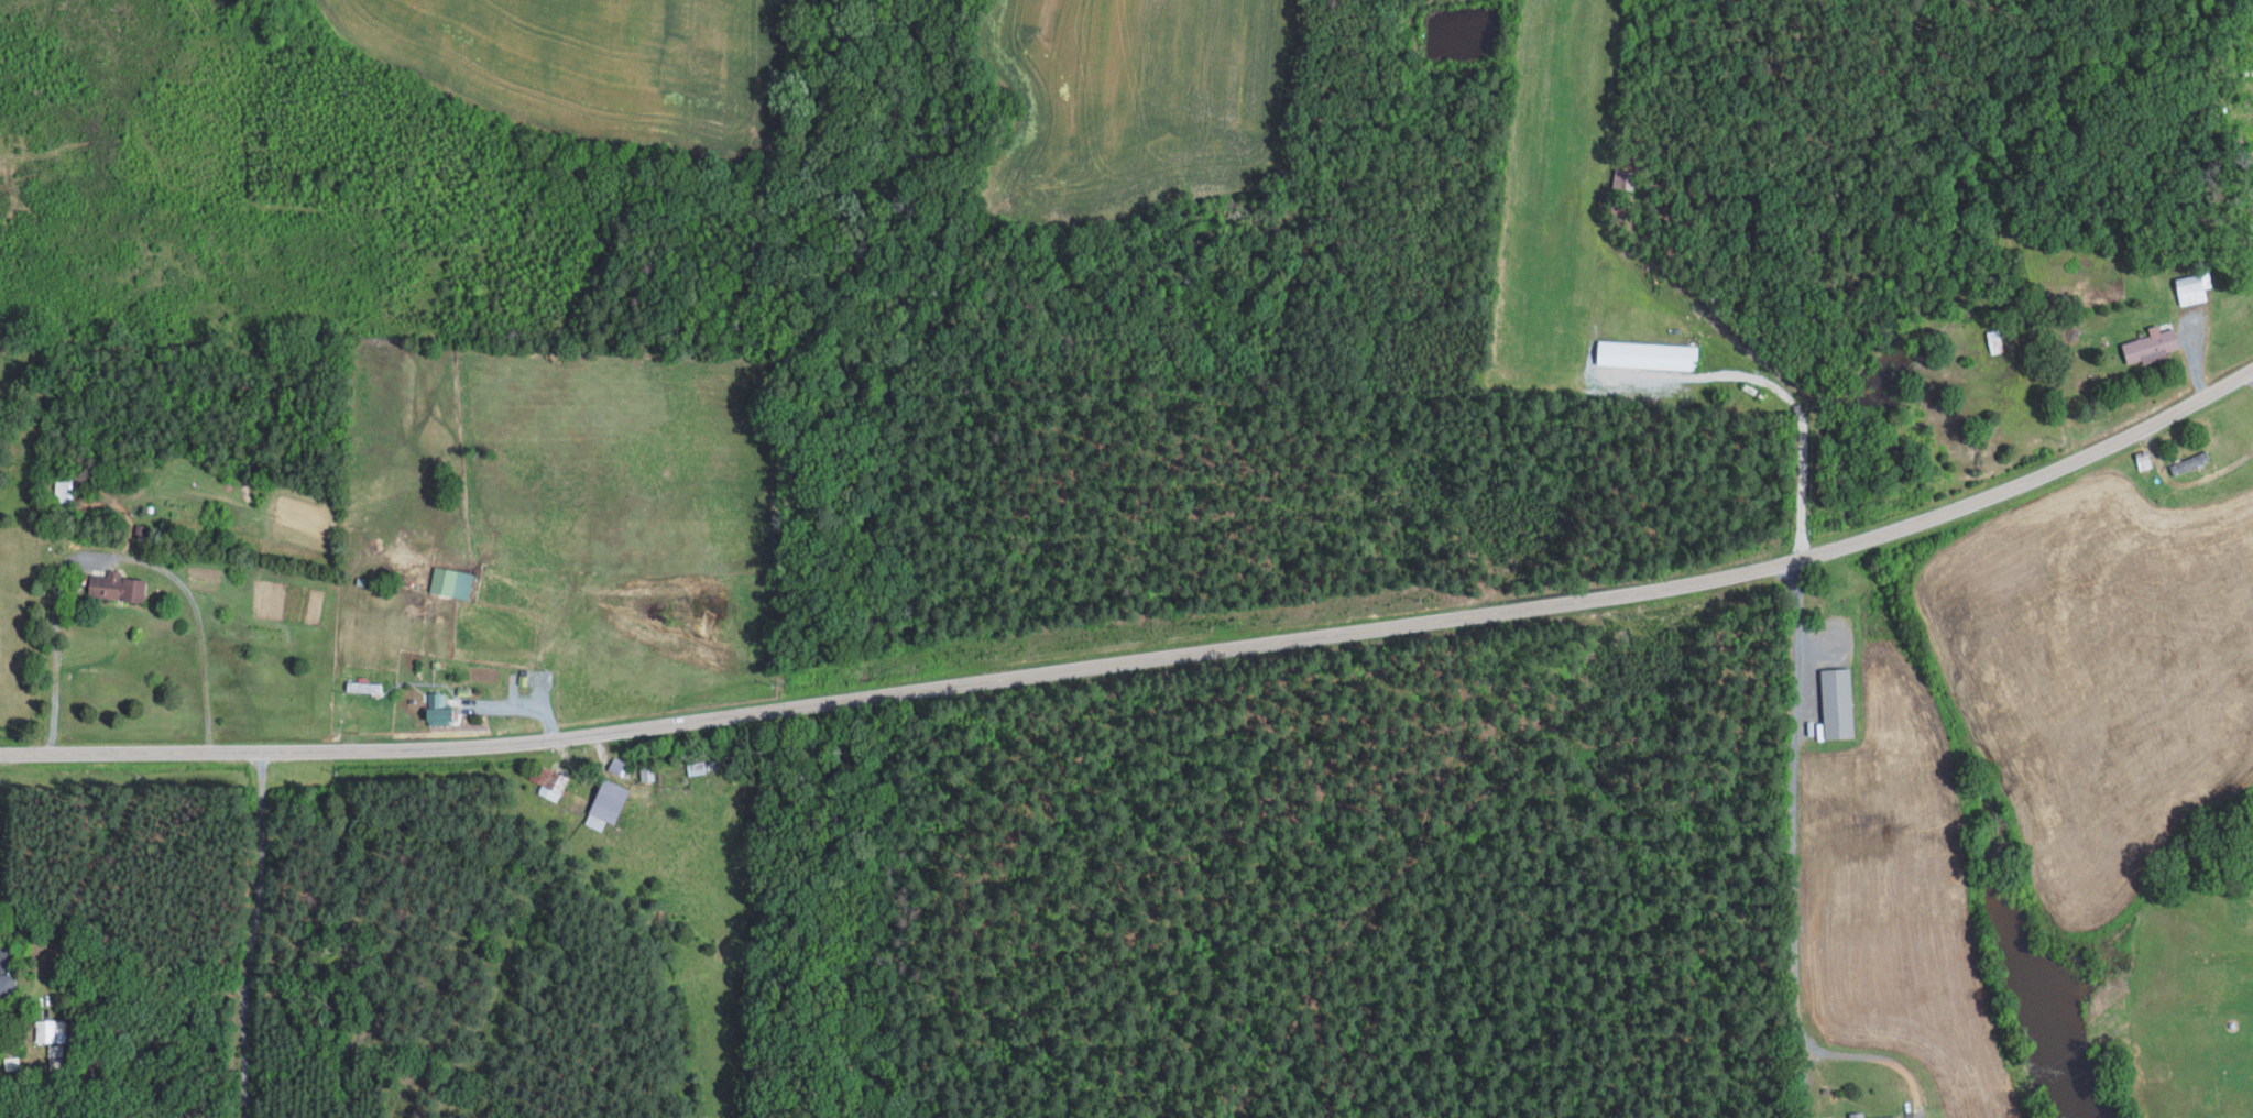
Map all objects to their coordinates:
road: (2206, 122)
airport runway: (1554, 180)
building: (2191, 288)
building: (1995, 340)
building: (2153, 344)
building: (1648, 354)
road: (2252, 372)
building: (2191, 461)
road: (2184, 482)
building: (141, 529)
road: (117, 555)
building: (451, 581)
building: (118, 585)
road: (1147, 658)
building: (363, 687)
building: (1838, 702)
road: (517, 706)
building: (441, 709)
building: (647, 772)
building: (549, 781)
building: (608, 803)
road: (1212, 832)
road: (1792, 877)
road: (251, 936)
building: (7, 984)
building: (53, 1041)
road: (1800, 1077)
building: (1857, 1114)

